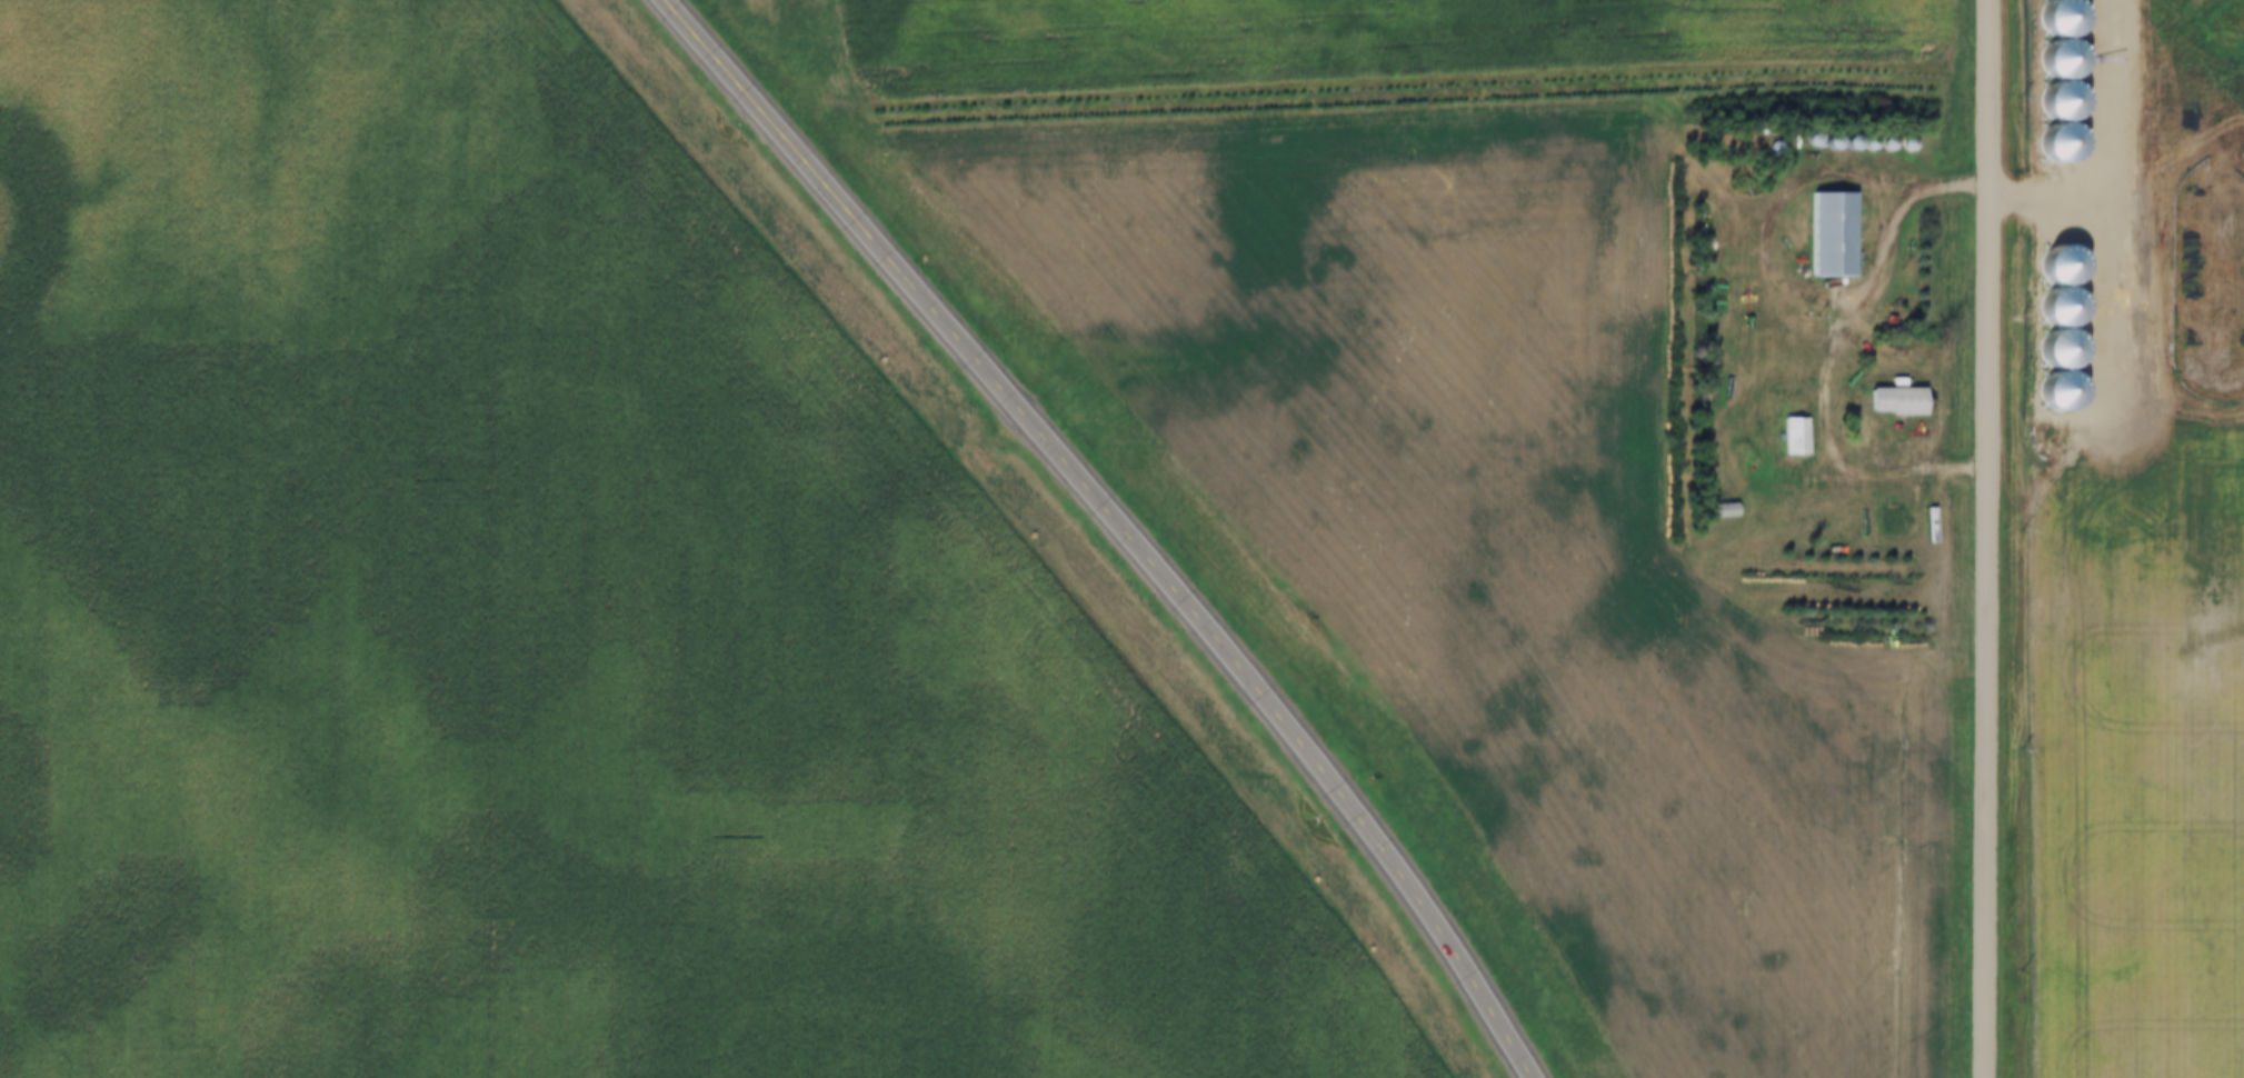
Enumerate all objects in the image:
building: (1799, 142)
silo: (1799, 142)
building: (1856, 146)
silo: (1856, 146)
building: (1876, 146)
silo: (1876, 146)
building: (1896, 146)
silo: (1896, 146)
building: (1816, 147)
silo: (1816, 147)
building: (1835, 147)
silo: (1835, 147)
building: (1764, 151)
silo: (1764, 151)
building: (1818, 239)
road: (1819, 346)
building: (1882, 403)
building: (1786, 438)
building: (1891, 505)
building: (1715, 510)
road: (1123, 523)
road: (1995, 539)

